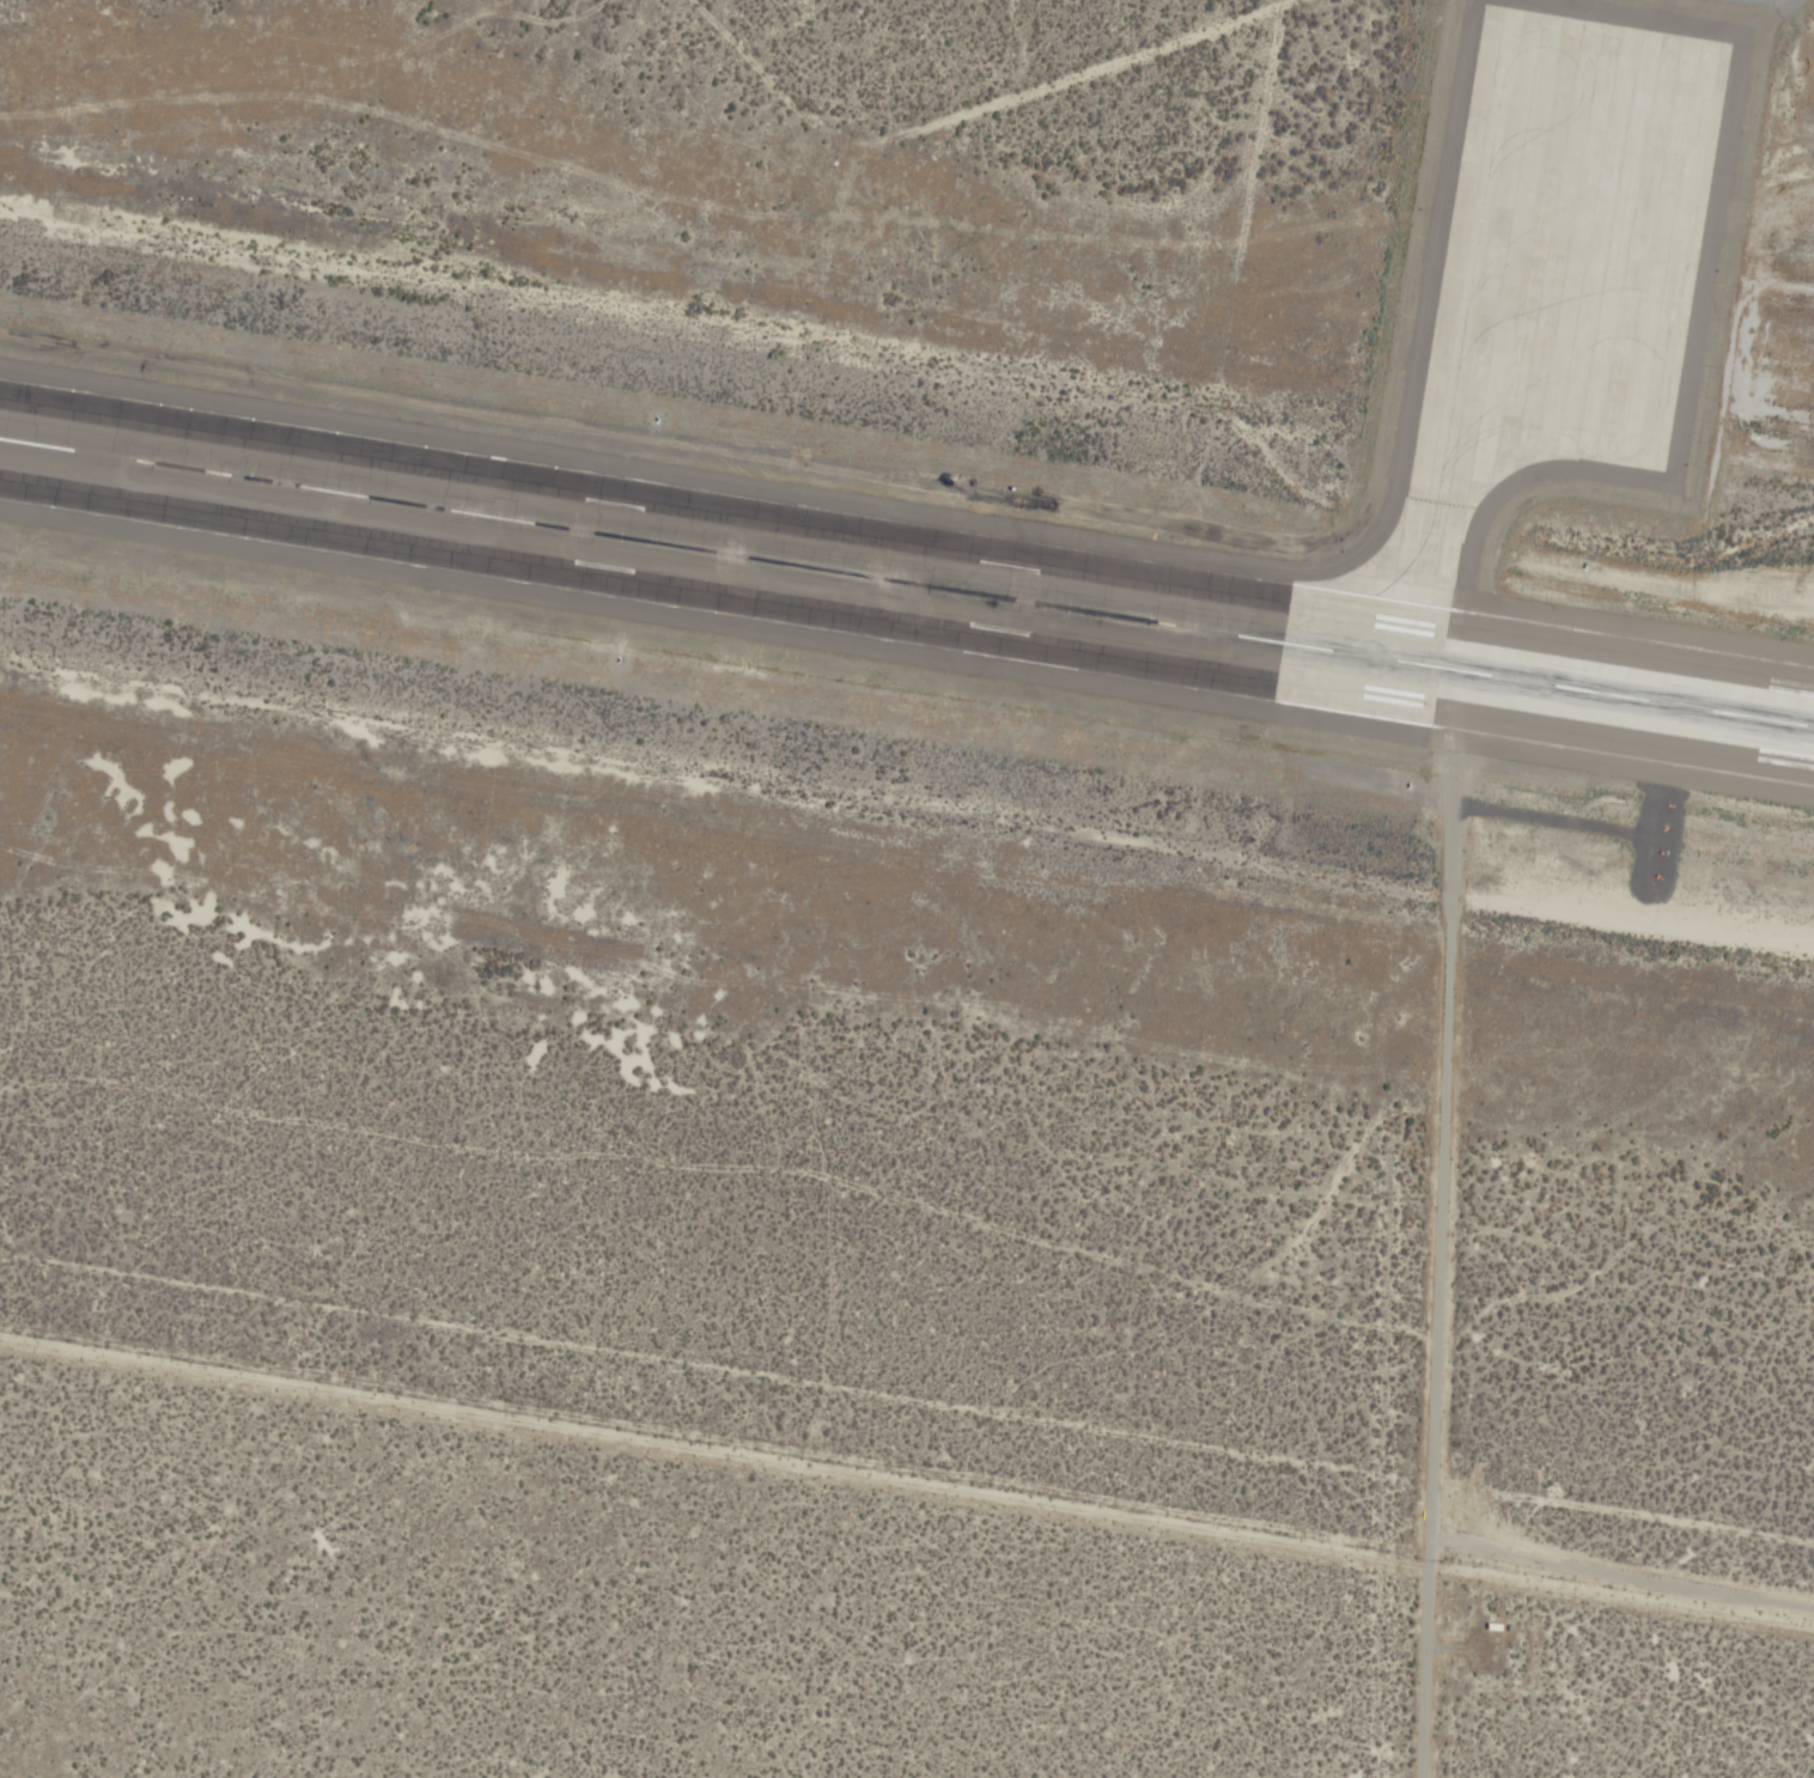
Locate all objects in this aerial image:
road: (810, 345)
airport runway: (907, 586)
airport: (907, 889)

